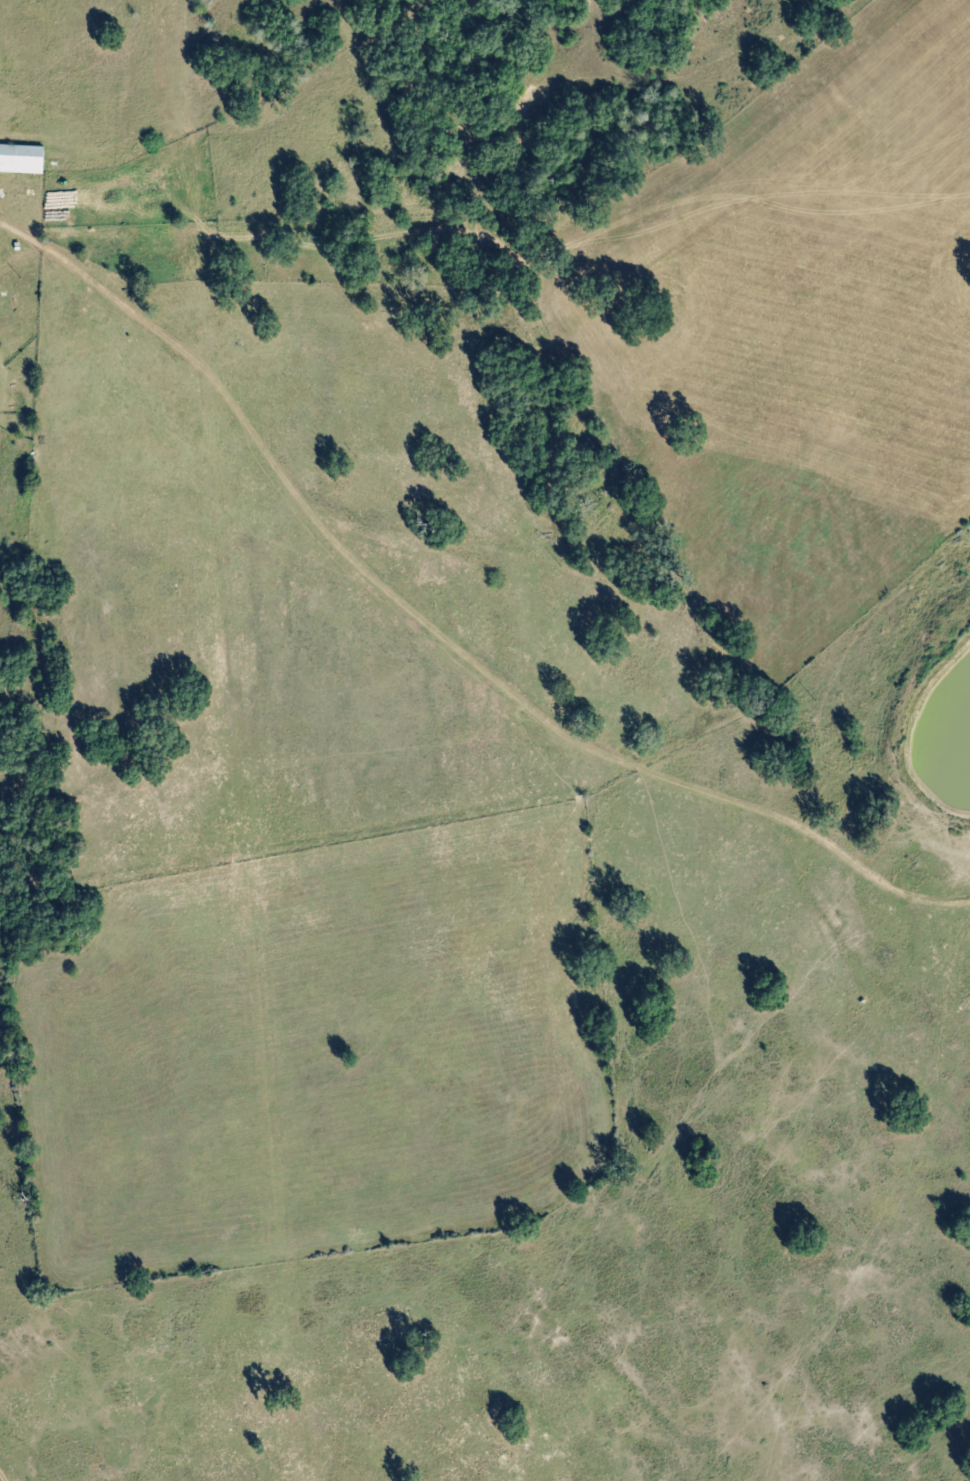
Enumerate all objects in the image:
building: (22, 159)

